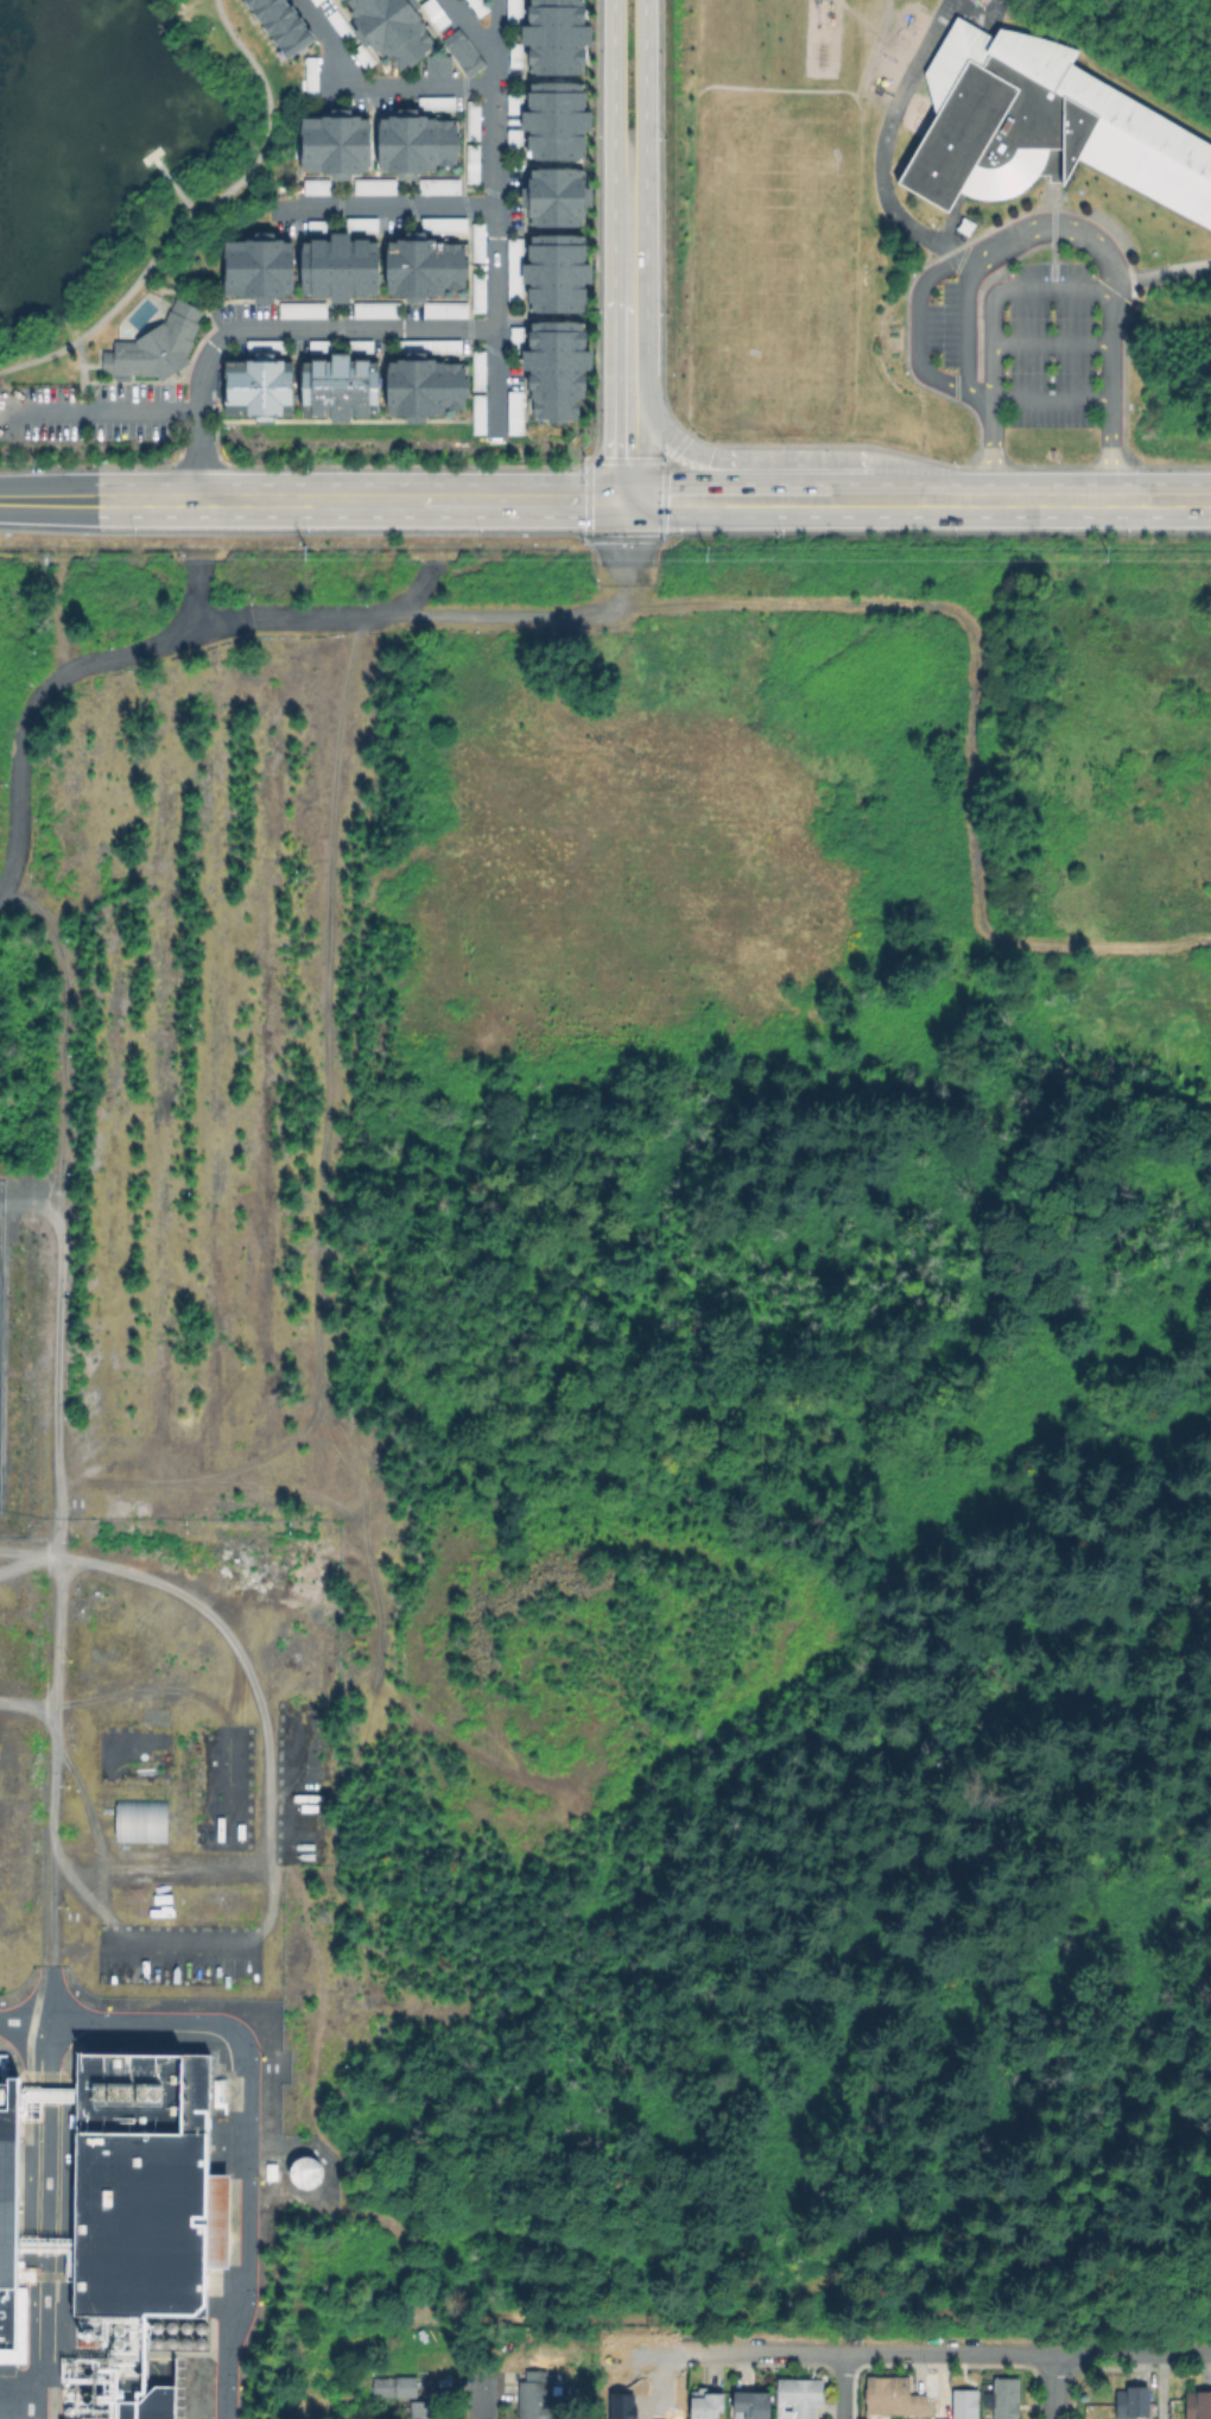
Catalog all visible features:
building: (313, 1)
building: (319, 1)
building: (480, 6)
building: (436, 13)
building: (515, 14)
building: (283, 25)
building: (341, 25)
road: (495, 26)
building: (394, 27)
building: (562, 36)
building: (462, 49)
building: (516, 52)
building: (363, 56)
building: (436, 67)
building: (313, 77)
road: (372, 86)
building: (437, 102)
road: (332, 113)
building: (475, 120)
building: (559, 121)
building: (514, 125)
building: (1042, 129)
building: (337, 141)
building: (418, 143)
road: (613, 147)
park: (125, 160)
building: (474, 164)
road: (286, 179)
building: (438, 186)
building: (321, 188)
building: (379, 188)
building: (559, 197)
road: (387, 207)
road: (495, 210)
road: (195, 213)
building: (446, 226)
building: (323, 227)
building: (363, 227)
road: (1012, 242)
building: (480, 243)
road: (645, 252)
park: (775, 266)
building: (342, 267)
building: (429, 267)
building: (260, 268)
building: (551, 272)
road: (1161, 273)
building: (480, 292)
road: (189, 293)
road: (995, 300)
building: (304, 310)
building: (446, 310)
building: (379, 311)
road: (969, 324)
road: (272, 329)
building: (518, 341)
building: (158, 344)
road: (1053, 344)
building: (323, 347)
building: (362, 347)
building: (430, 347)
building: (558, 369)
building: (481, 371)
building: (427, 387)
building: (261, 388)
building: (341, 388)
road: (1053, 398)
road: (613, 399)
road: (99, 413)
building: (516, 413)
building: (481, 414)
road: (673, 452)
road: (781, 460)
road: (659, 461)
road: (47, 500)
road: (780, 500)
road: (1072, 500)
road: (361, 501)
traffic signals: (628, 501)
road: (449, 609)
road: (50, 685)
power substation: (1, 1318)
road: (216, 1622)
road: (53, 1642)
building: (142, 1820)
road: (50, 1847)
road: (246, 2105)
building: (303, 2172)
building: (147, 2189)
building: (11, 2236)
road: (947, 2352)
road: (839, 2386)
road: (1050, 2386)
building: (397, 2387)
road: (480, 2394)
building: (799, 2395)
building: (894, 2395)
building: (1006, 2398)
building: (535, 2399)
building: (1135, 2401)
building: (706, 2405)
building: (966, 2405)
building: (152, 2406)
building: (753, 2406)
building: (1200, 2406)
building: (424, 2408)
building: (933, 2418)

